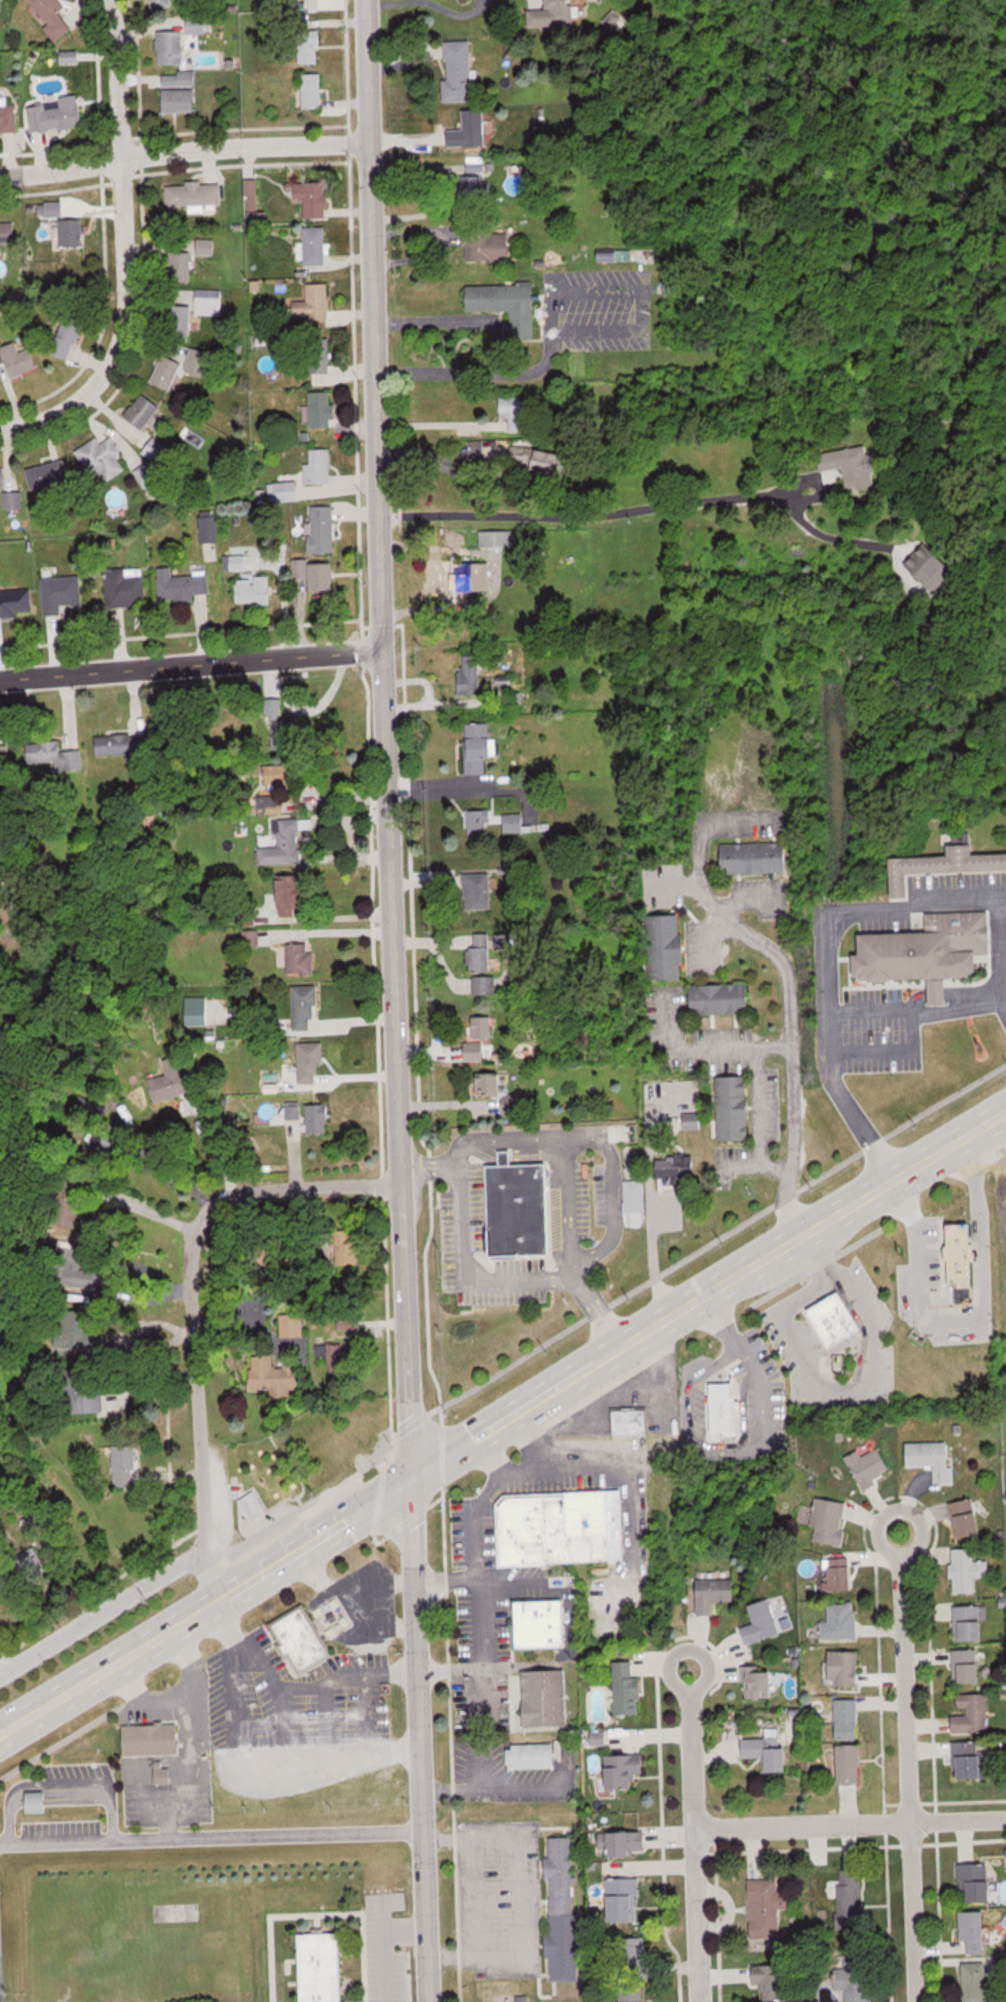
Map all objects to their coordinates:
road: (431, 4)
building: (160, 5)
building: (558, 13)
building: (53, 16)
building: (309, 40)
building: (171, 47)
building: (460, 71)
building: (179, 91)
building: (313, 91)
building: (56, 115)
building: (9, 118)
building: (469, 131)
road: (184, 153)
building: (481, 190)
building: (195, 195)
building: (314, 199)
road: (116, 230)
building: (8, 233)
building: (72, 233)
building: (487, 244)
building: (315, 246)
building: (206, 247)
building: (180, 267)
building: (671, 289)
building: (209, 302)
building: (314, 303)
building: (502, 309)
building: (181, 319)
road: (459, 323)
road: (583, 333)
building: (64, 341)
building: (19, 361)
building: (167, 373)
building: (323, 410)
building: (143, 412)
building: (517, 413)
road: (13, 423)
road: (437, 424)
building: (193, 439)
building: (102, 460)
building: (553, 464)
building: (851, 466)
building: (319, 467)
building: (49, 476)
building: (148, 480)
building: (7, 487)
building: (285, 492)
road: (638, 512)
building: (209, 527)
building: (322, 530)
building: (496, 539)
building: (238, 563)
building: (930, 567)
building: (300, 569)
building: (476, 577)
building: (323, 581)
building: (126, 586)
building: (183, 586)
building: (253, 590)
building: (61, 594)
building: (16, 602)
road: (191, 663)
building: (471, 675)
building: (281, 728)
building: (120, 743)
building: (479, 747)
building: (55, 755)
road: (439, 789)
building: (513, 823)
building: (479, 824)
building: (282, 842)
building: (756, 857)
building: (935, 868)
building: (293, 894)
building: (480, 895)
road: (827, 914)
building: (667, 946)
building: (922, 952)
building: (479, 954)
building: (300, 959)
road: (787, 976)
building: (483, 985)
building: (722, 998)
road: (395, 1001)
building: (306, 1010)
road: (956, 1011)
building: (216, 1012)
road: (909, 1032)
building: (480, 1037)
road: (704, 1045)
building: (311, 1063)
building: (176, 1088)
building: (509, 1096)
road: (760, 1103)
building: (734, 1108)
building: (318, 1118)
building: (692, 1121)
road: (216, 1143)
road: (563, 1149)
road: (301, 1185)
road: (611, 1186)
building: (631, 1196)
road: (138, 1207)
building: (513, 1209)
building: (959, 1260)
road: (475, 1277)
road: (970, 1316)
building: (830, 1318)
building: (292, 1325)
building: (69, 1336)
road: (751, 1359)
building: (276, 1376)
road: (857, 1384)
road: (195, 1399)
building: (104, 1402)
building: (721, 1408)
road: (500, 1415)
building: (627, 1421)
building: (126, 1457)
building: (933, 1458)
building: (870, 1467)
road: (518, 1469)
traffic signals: (412, 1476)
building: (253, 1508)
building: (966, 1519)
building: (830, 1521)
building: (35, 1527)
building: (556, 1528)
building: (968, 1570)
building: (841, 1574)
building: (4, 1581)
road: (444, 1581)
building: (715, 1594)
road: (473, 1597)
road: (104, 1608)
building: (763, 1622)
building: (842, 1622)
building: (971, 1623)
building: (535, 1624)
building: (350, 1635)
building: (297, 1641)
road: (689, 1648)
building: (966, 1666)
building: (846, 1668)
road: (447, 1675)
building: (771, 1684)
road: (319, 1689)
road: (364, 1690)
building: (629, 1690)
road: (274, 1697)
road: (140, 1700)
building: (540, 1700)
building: (971, 1714)
building: (849, 1719)
road: (187, 1740)
building: (146, 1741)
building: (775, 1747)
road: (900, 1752)
building: (530, 1757)
road: (693, 1758)
building: (974, 1762)
building: (852, 1765)
road: (242, 1768)
building: (625, 1770)
road: (140, 1779)
road: (489, 1790)
road: (56, 1791)
road: (850, 1823)
road: (212, 1839)
building: (624, 1844)
building: (977, 1881)
road: (474, 1896)
building: (849, 1898)
building: (621, 1899)
building: (767, 1907)
road: (697, 1915)
building: (562, 1917)
building: (974, 1932)
road: (387, 1949)
building: (633, 1956)
building: (321, 1967)
building: (979, 1977)
building: (771, 1981)
building: (856, 1983)
building: (634, 1996)

